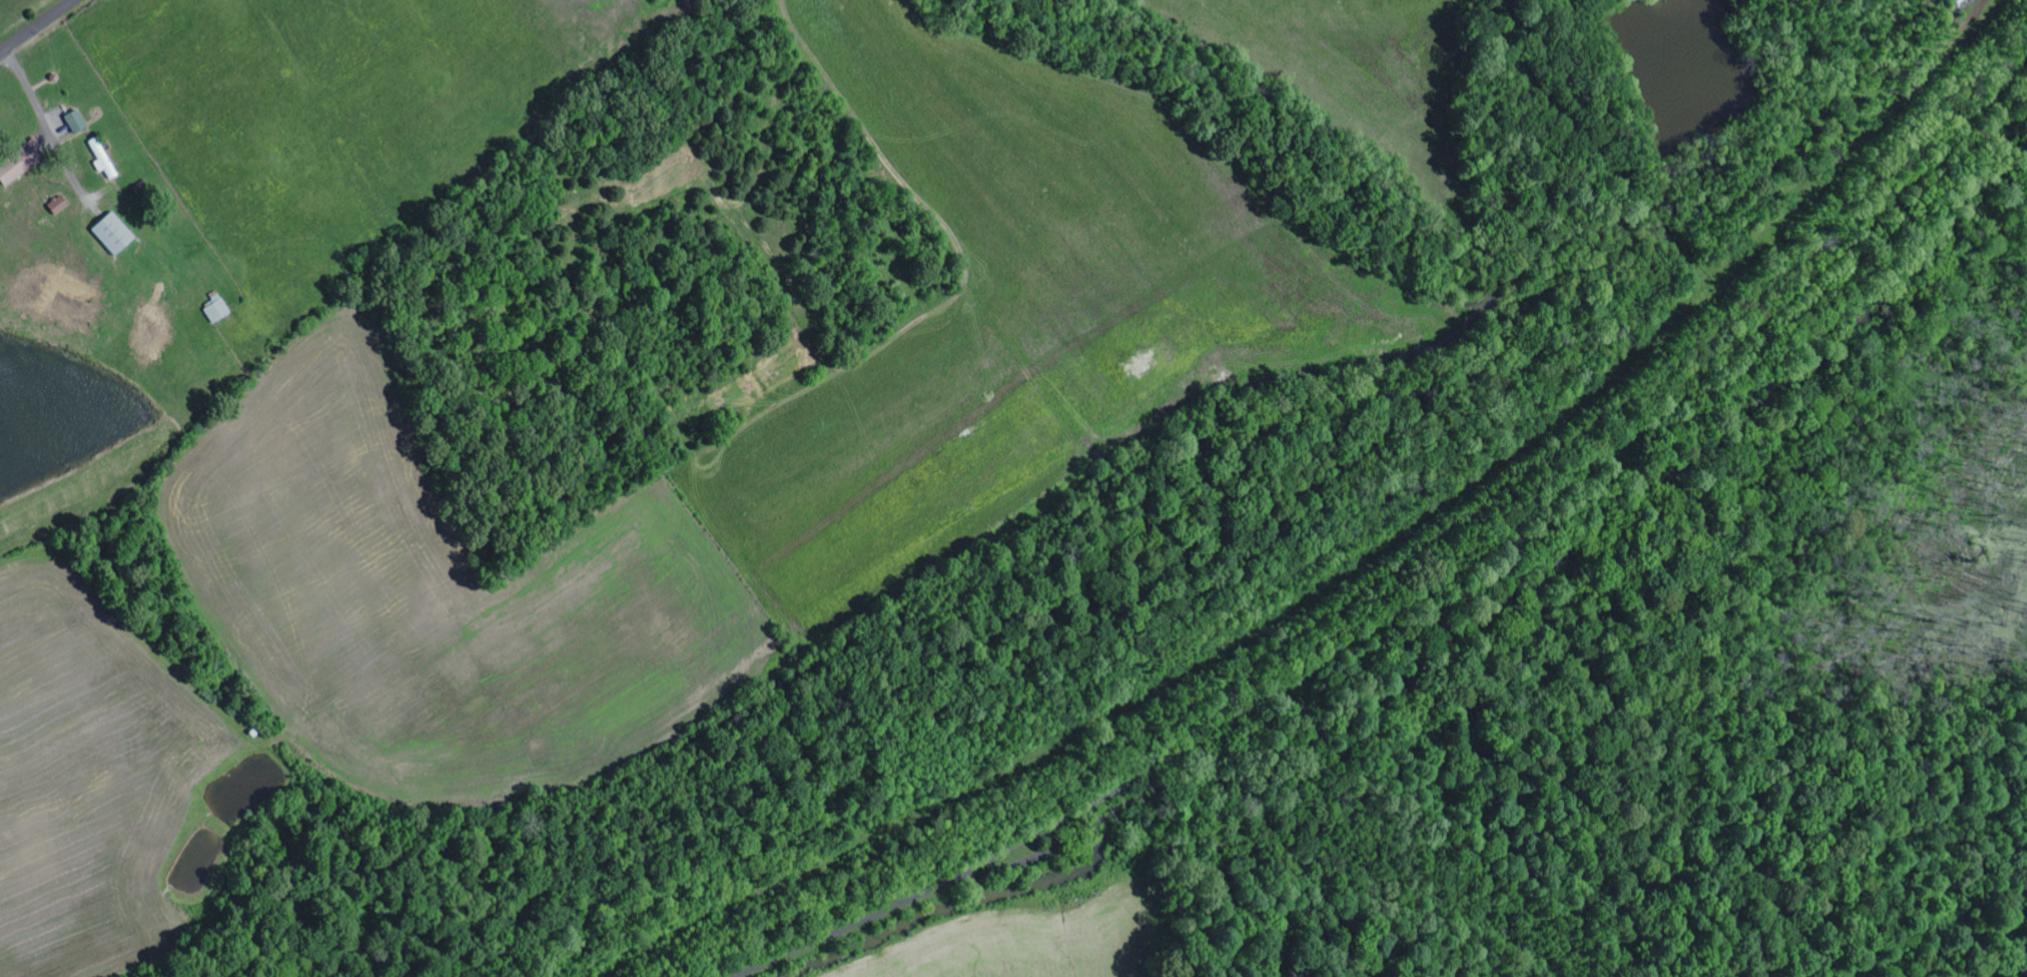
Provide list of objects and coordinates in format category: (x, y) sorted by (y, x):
road: (39, 28)
building: (77, 122)
building: (21, 162)
building: (114, 234)
railway: (1443, 545)
road: (1006, 795)

